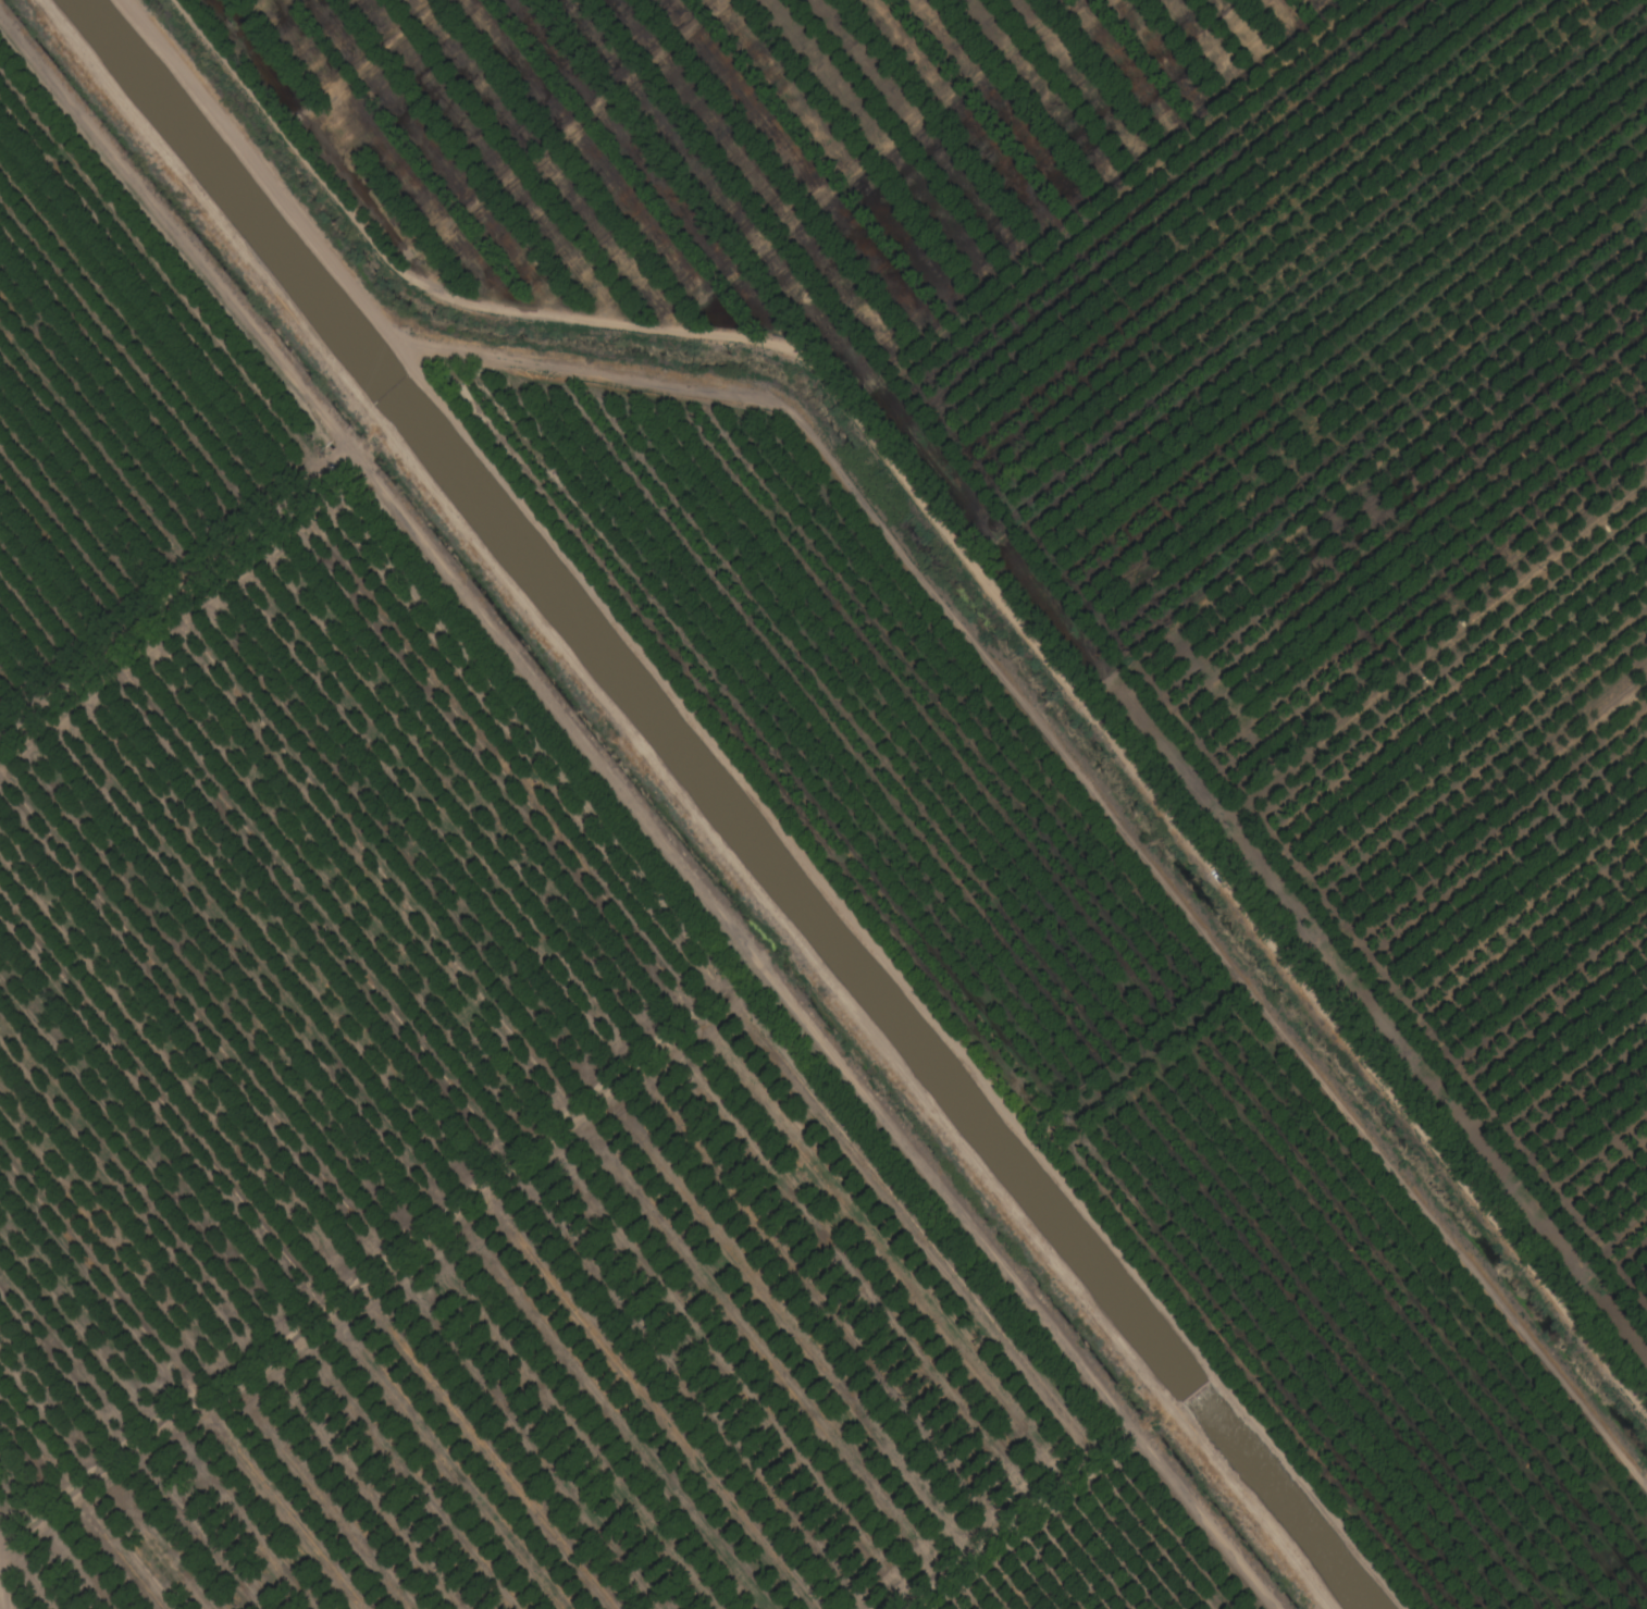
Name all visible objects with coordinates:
road: (641, 804)
road: (683, 804)
road: (765, 805)

